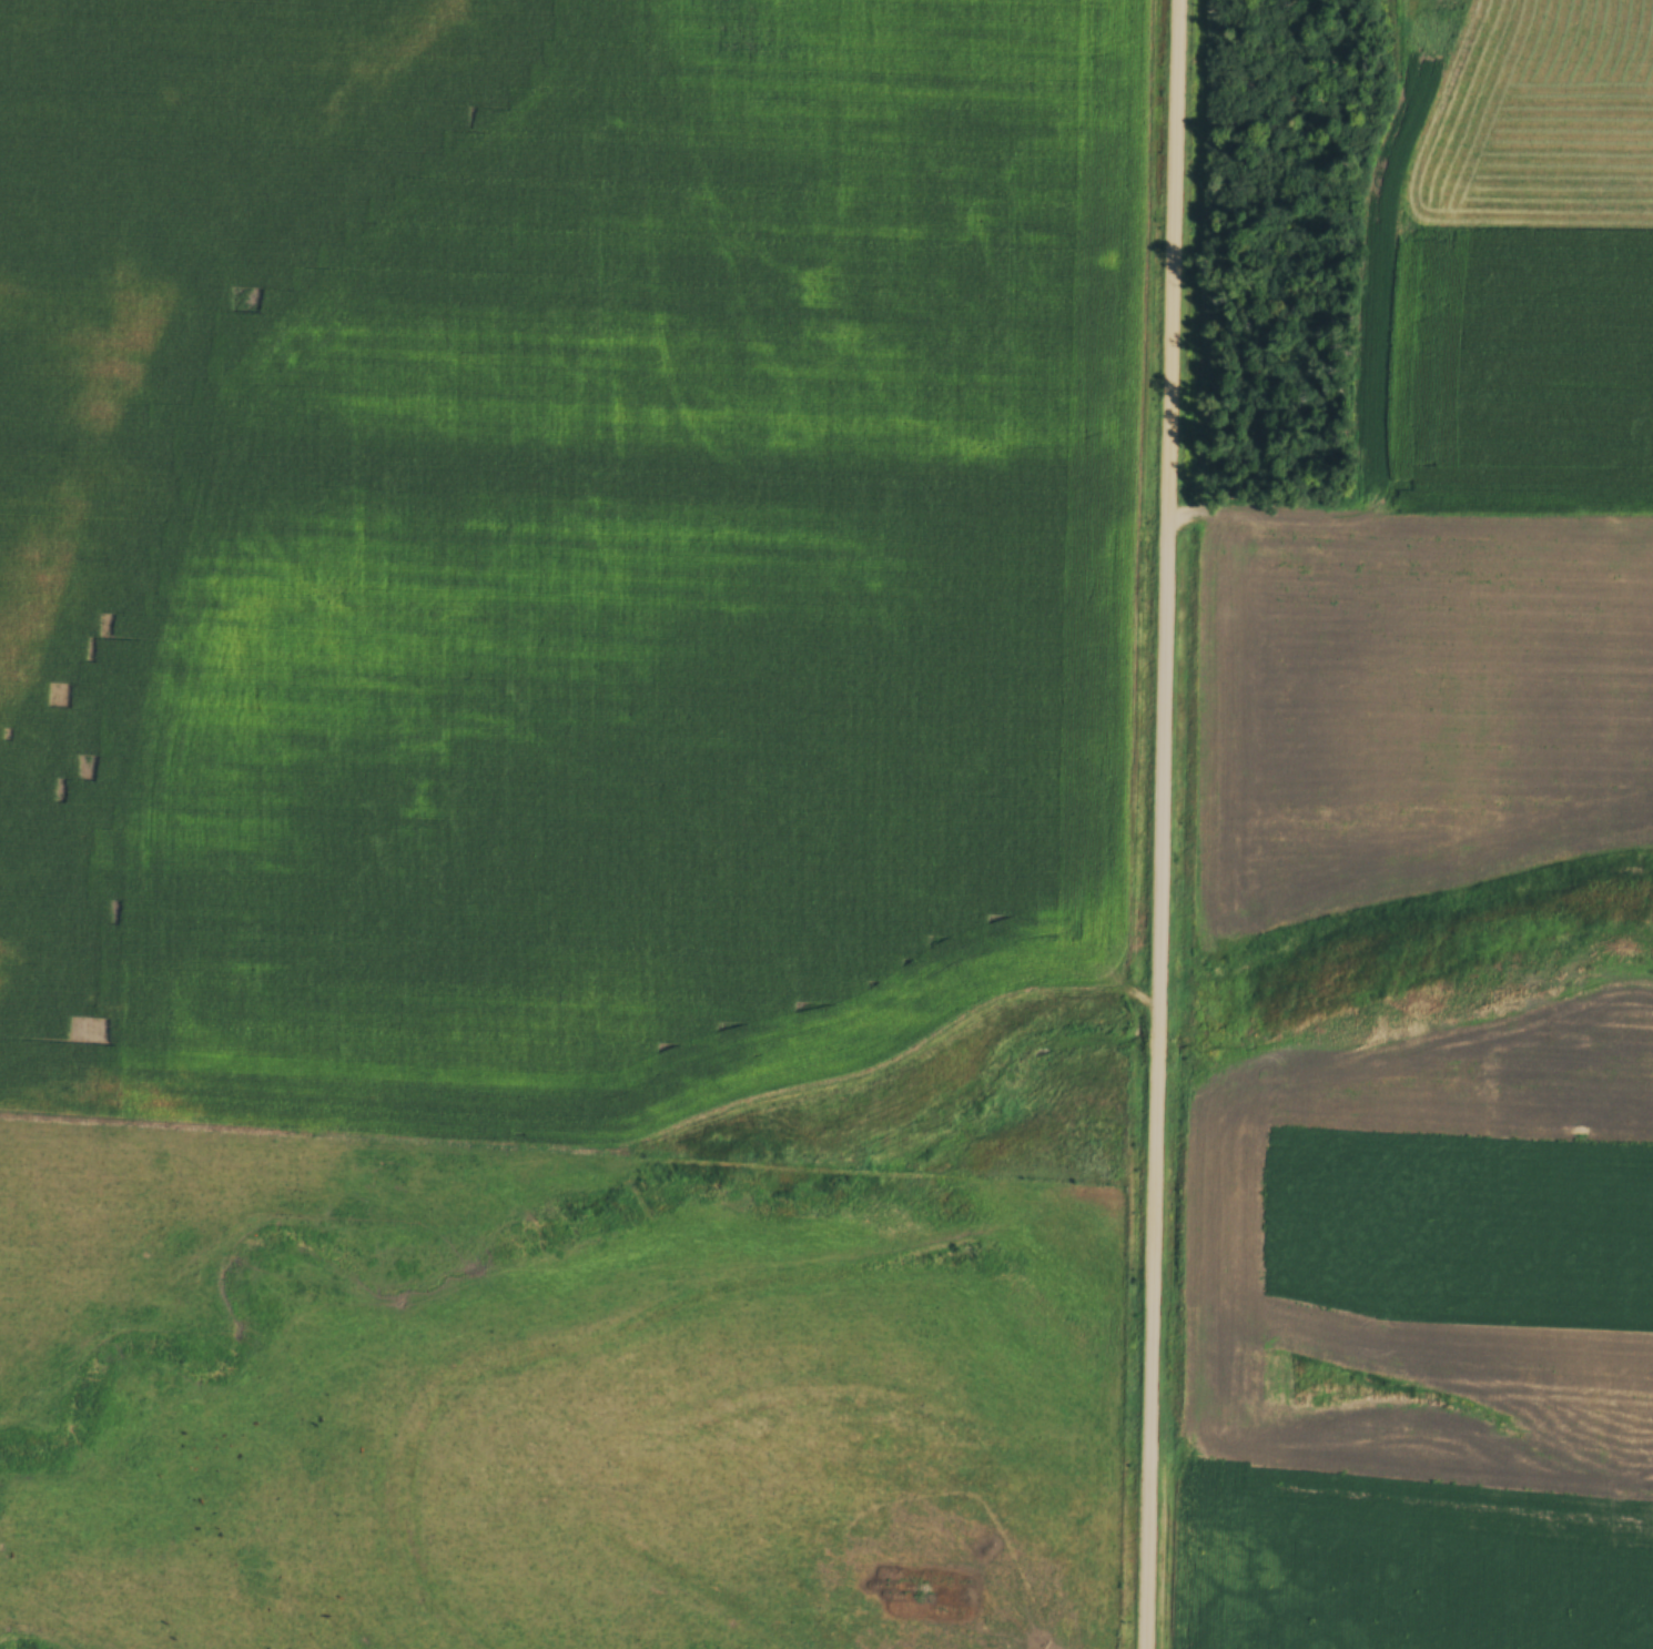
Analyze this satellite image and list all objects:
road: (1253, 824)

